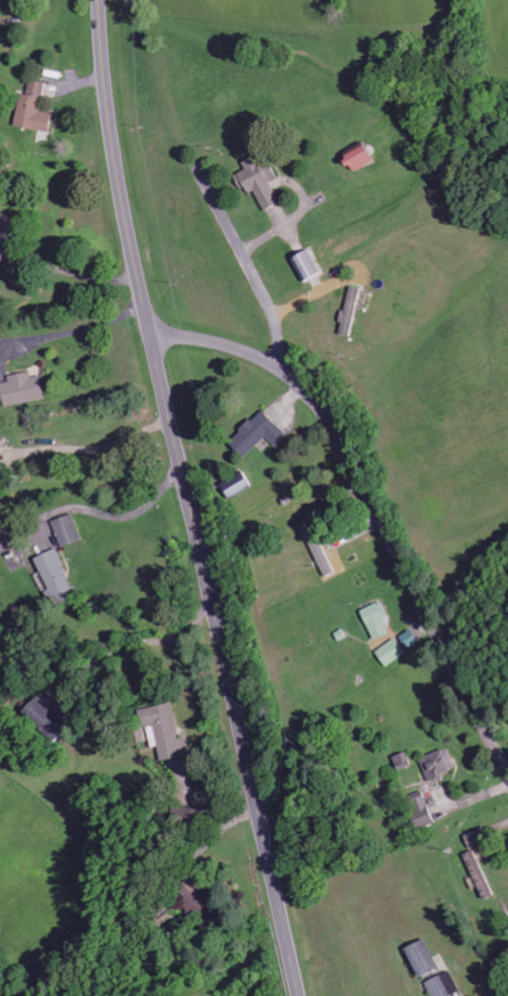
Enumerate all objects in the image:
building: (7, 0)
building: (33, 109)
building: (355, 159)
building: (258, 180)
building: (305, 265)
building: (349, 311)
building: (22, 389)
building: (257, 434)
building: (235, 485)
road: (189, 499)
road: (371, 502)
building: (67, 530)
building: (323, 558)
building: (55, 577)
building: (376, 621)
building: (390, 653)
building: (45, 719)
building: (164, 730)
building: (402, 761)
building: (437, 765)
building: (420, 810)
building: (473, 840)
building: (479, 875)
building: (194, 898)
building: (421, 957)
building: (443, 985)

